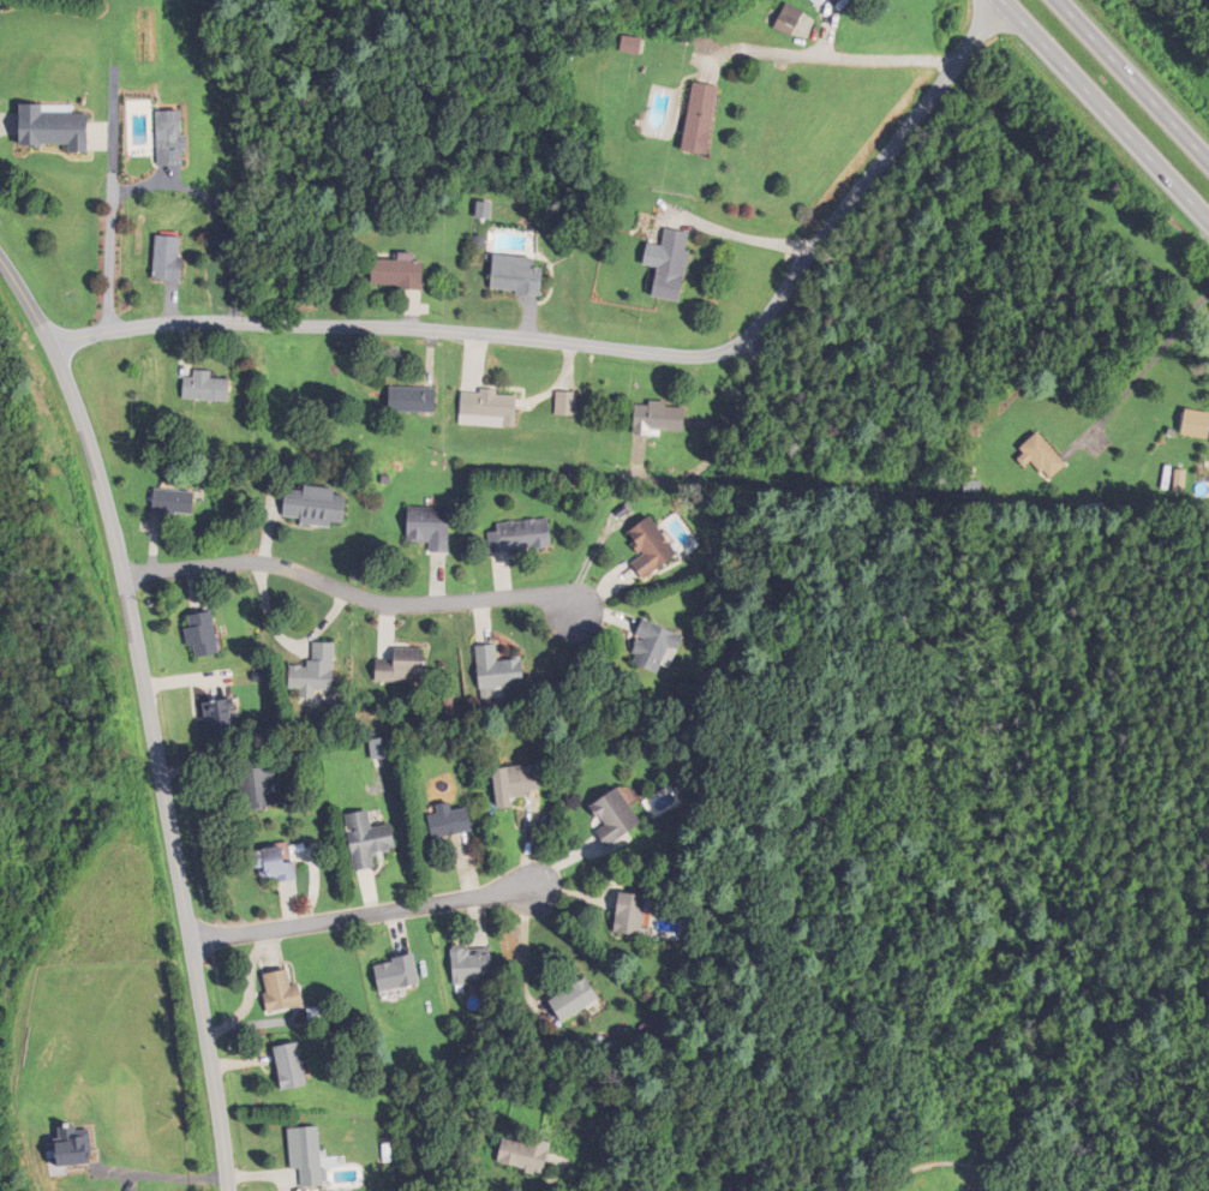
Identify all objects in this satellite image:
building: (827, 2)
building: (845, 2)
building: (803, 23)
building: (639, 47)
road: (833, 59)
road: (1131, 82)
road: (1106, 110)
building: (707, 120)
road: (4, 131)
building: (60, 131)
building: (178, 140)
road: (115, 201)
building: (487, 213)
building: (175, 261)
building: (672, 264)
building: (405, 275)
building: (523, 277)
road: (615, 351)
building: (211, 390)
building: (418, 402)
building: (569, 406)
building: (499, 407)
building: (665, 419)
building: (1198, 423)
building: (1046, 457)
building: (180, 501)
building: (321, 505)
road: (1126, 514)
building: (435, 526)
building: (525, 535)
building: (658, 546)
road: (352, 593)
building: (208, 634)
building: (660, 646)
building: (407, 665)
building: (502, 670)
building: (317, 671)
road: (152, 714)
building: (225, 716)
building: (523, 783)
building: (262, 788)
building: (620, 818)
building: (457, 822)
building: (373, 839)
building: (279, 863)
building: (636, 914)
road: (366, 916)
building: (478, 965)
building: (405, 972)
building: (287, 992)
building: (579, 999)
building: (295, 1066)
building: (311, 1155)
building: (531, 1155)
park: (905, 1174)

